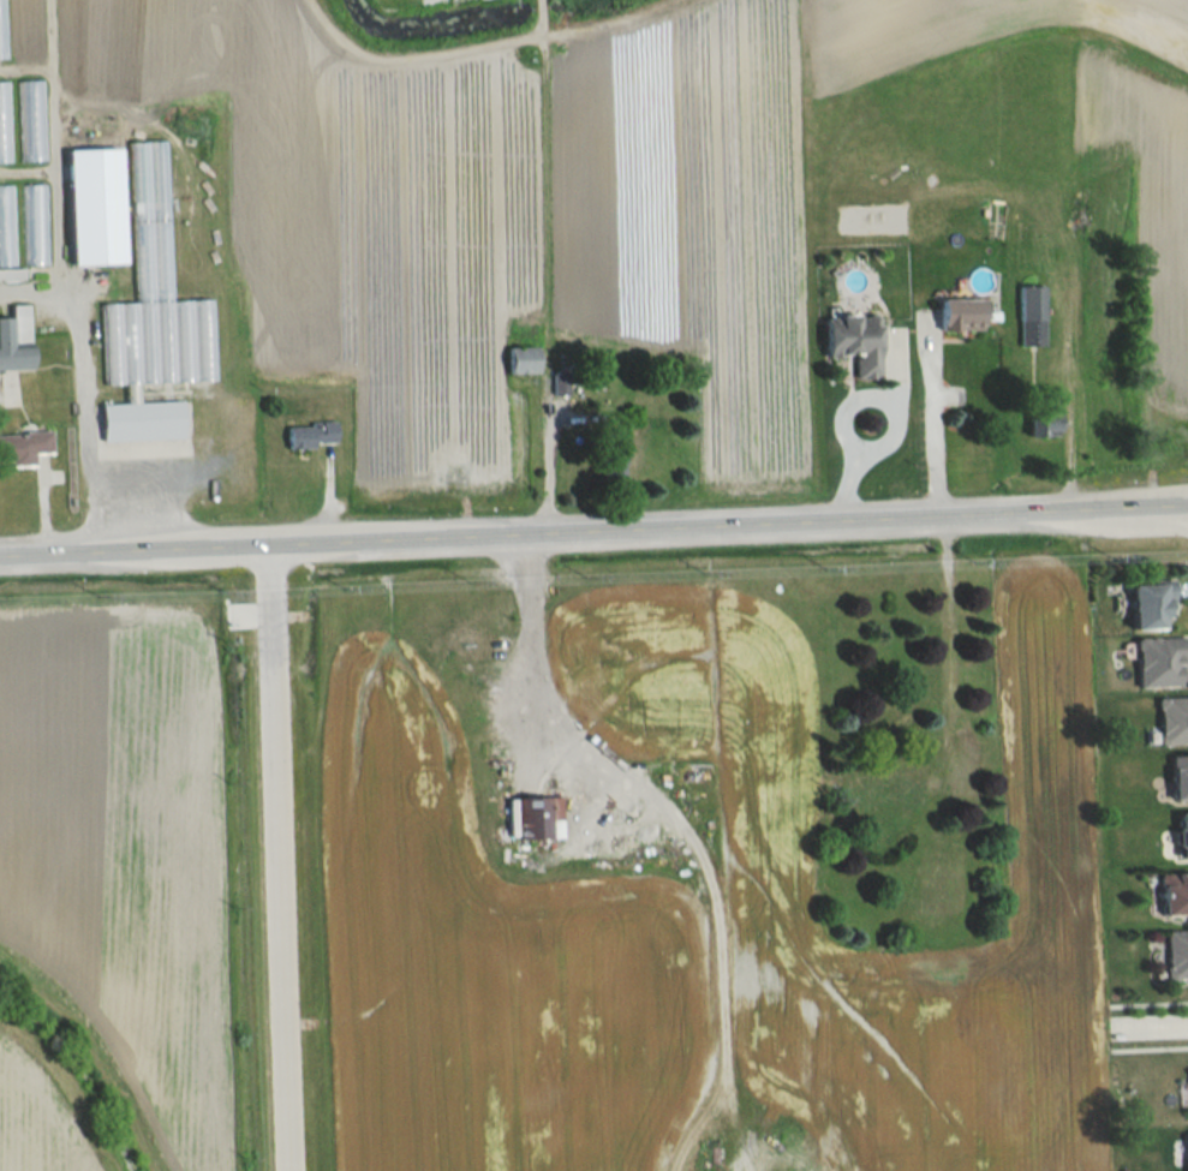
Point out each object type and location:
building: (2, 30)
building: (31, 121)
building: (4, 123)
road: (47, 145)
crop: (590, 196)
building: (96, 205)
building: (34, 225)
building: (6, 227)
building: (963, 313)
building: (1033, 315)
building: (153, 317)
building: (16, 339)
building: (856, 341)
building: (524, 359)
road: (83, 383)
road: (1068, 395)
road: (933, 416)
building: (1045, 416)
road: (895, 420)
building: (312, 434)
building: (23, 447)
road: (547, 449)
building: (613, 454)
road: (593, 528)
building: (1146, 603)
road: (533, 649)
building: (1157, 661)
building: (1171, 718)
building: (1178, 775)
building: (890, 790)
building: (541, 817)
building: (1181, 835)
crop: (123, 849)
road: (275, 858)
crop: (764, 866)
building: (1174, 892)
building: (1175, 952)
crop: (491, 964)
road: (1146, 1002)
road: (1150, 1021)
road: (1147, 1046)
crop: (38, 1118)
building: (1187, 1148)

